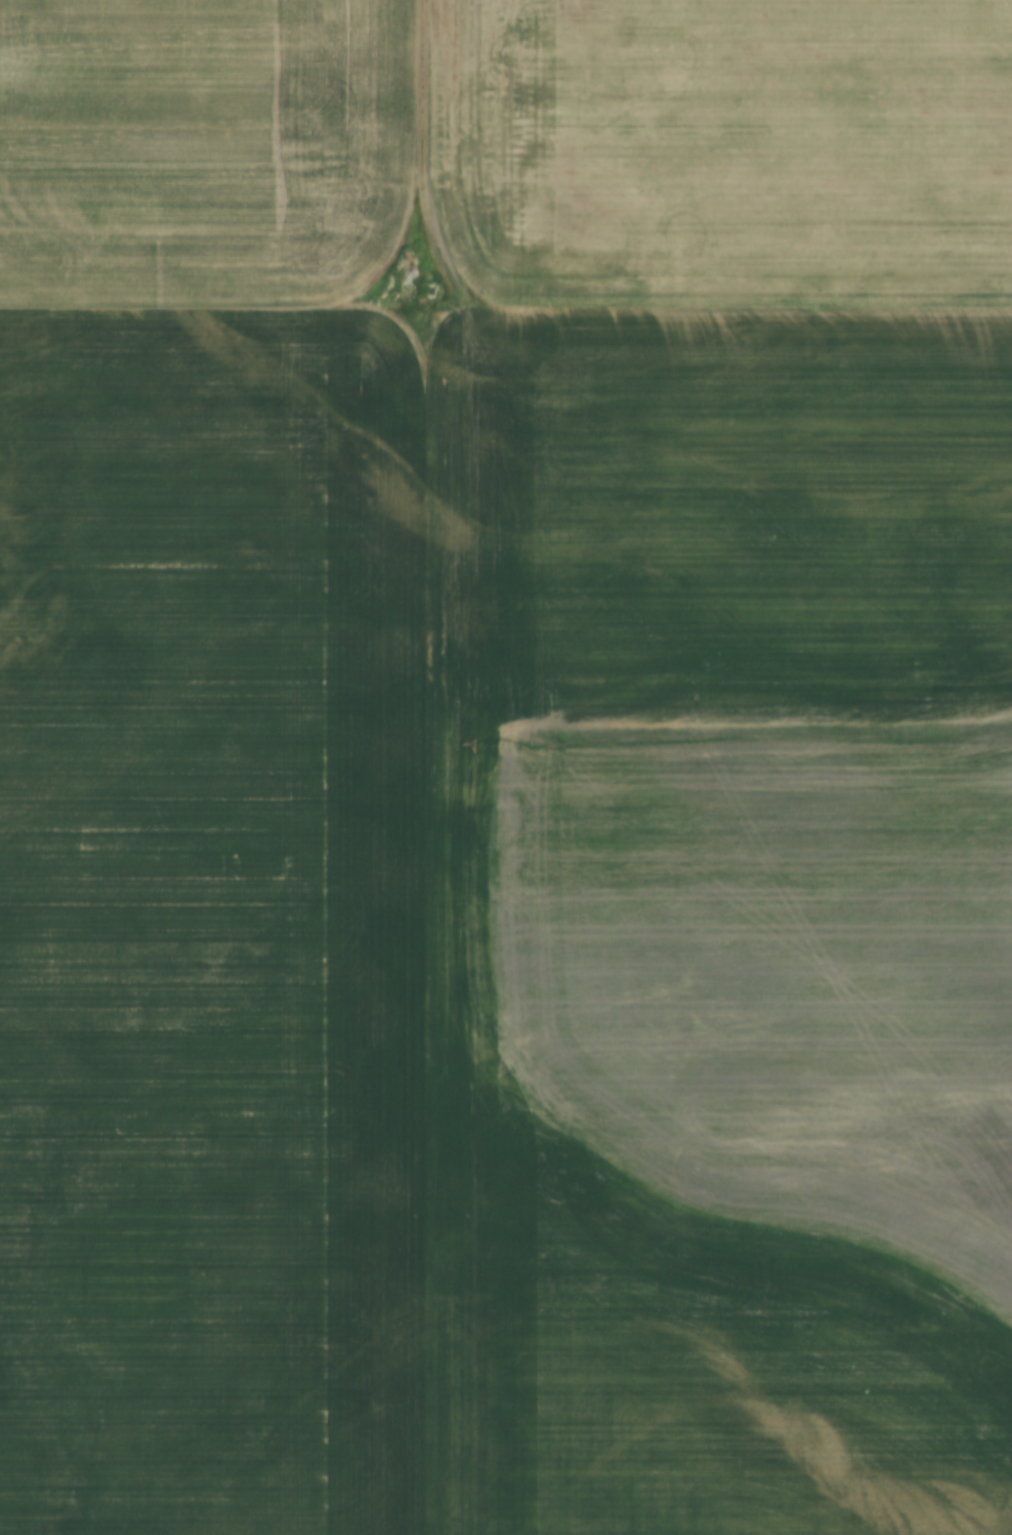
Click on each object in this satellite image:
road: (505, 305)
road: (424, 767)

